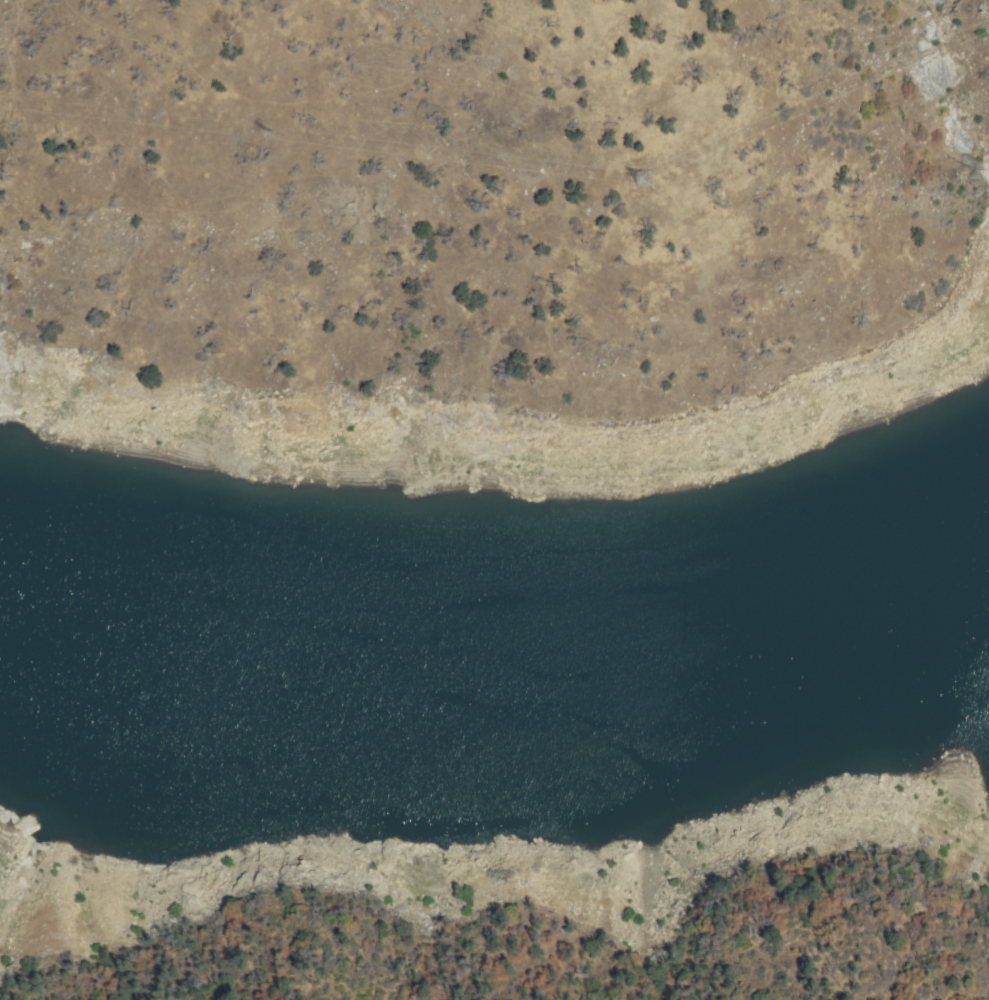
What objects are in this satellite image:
power tower: (234, 129)
power tower: (604, 175)
river: (918, 608)
river: (54, 663)
river: (627, 680)
river: (254, 696)

